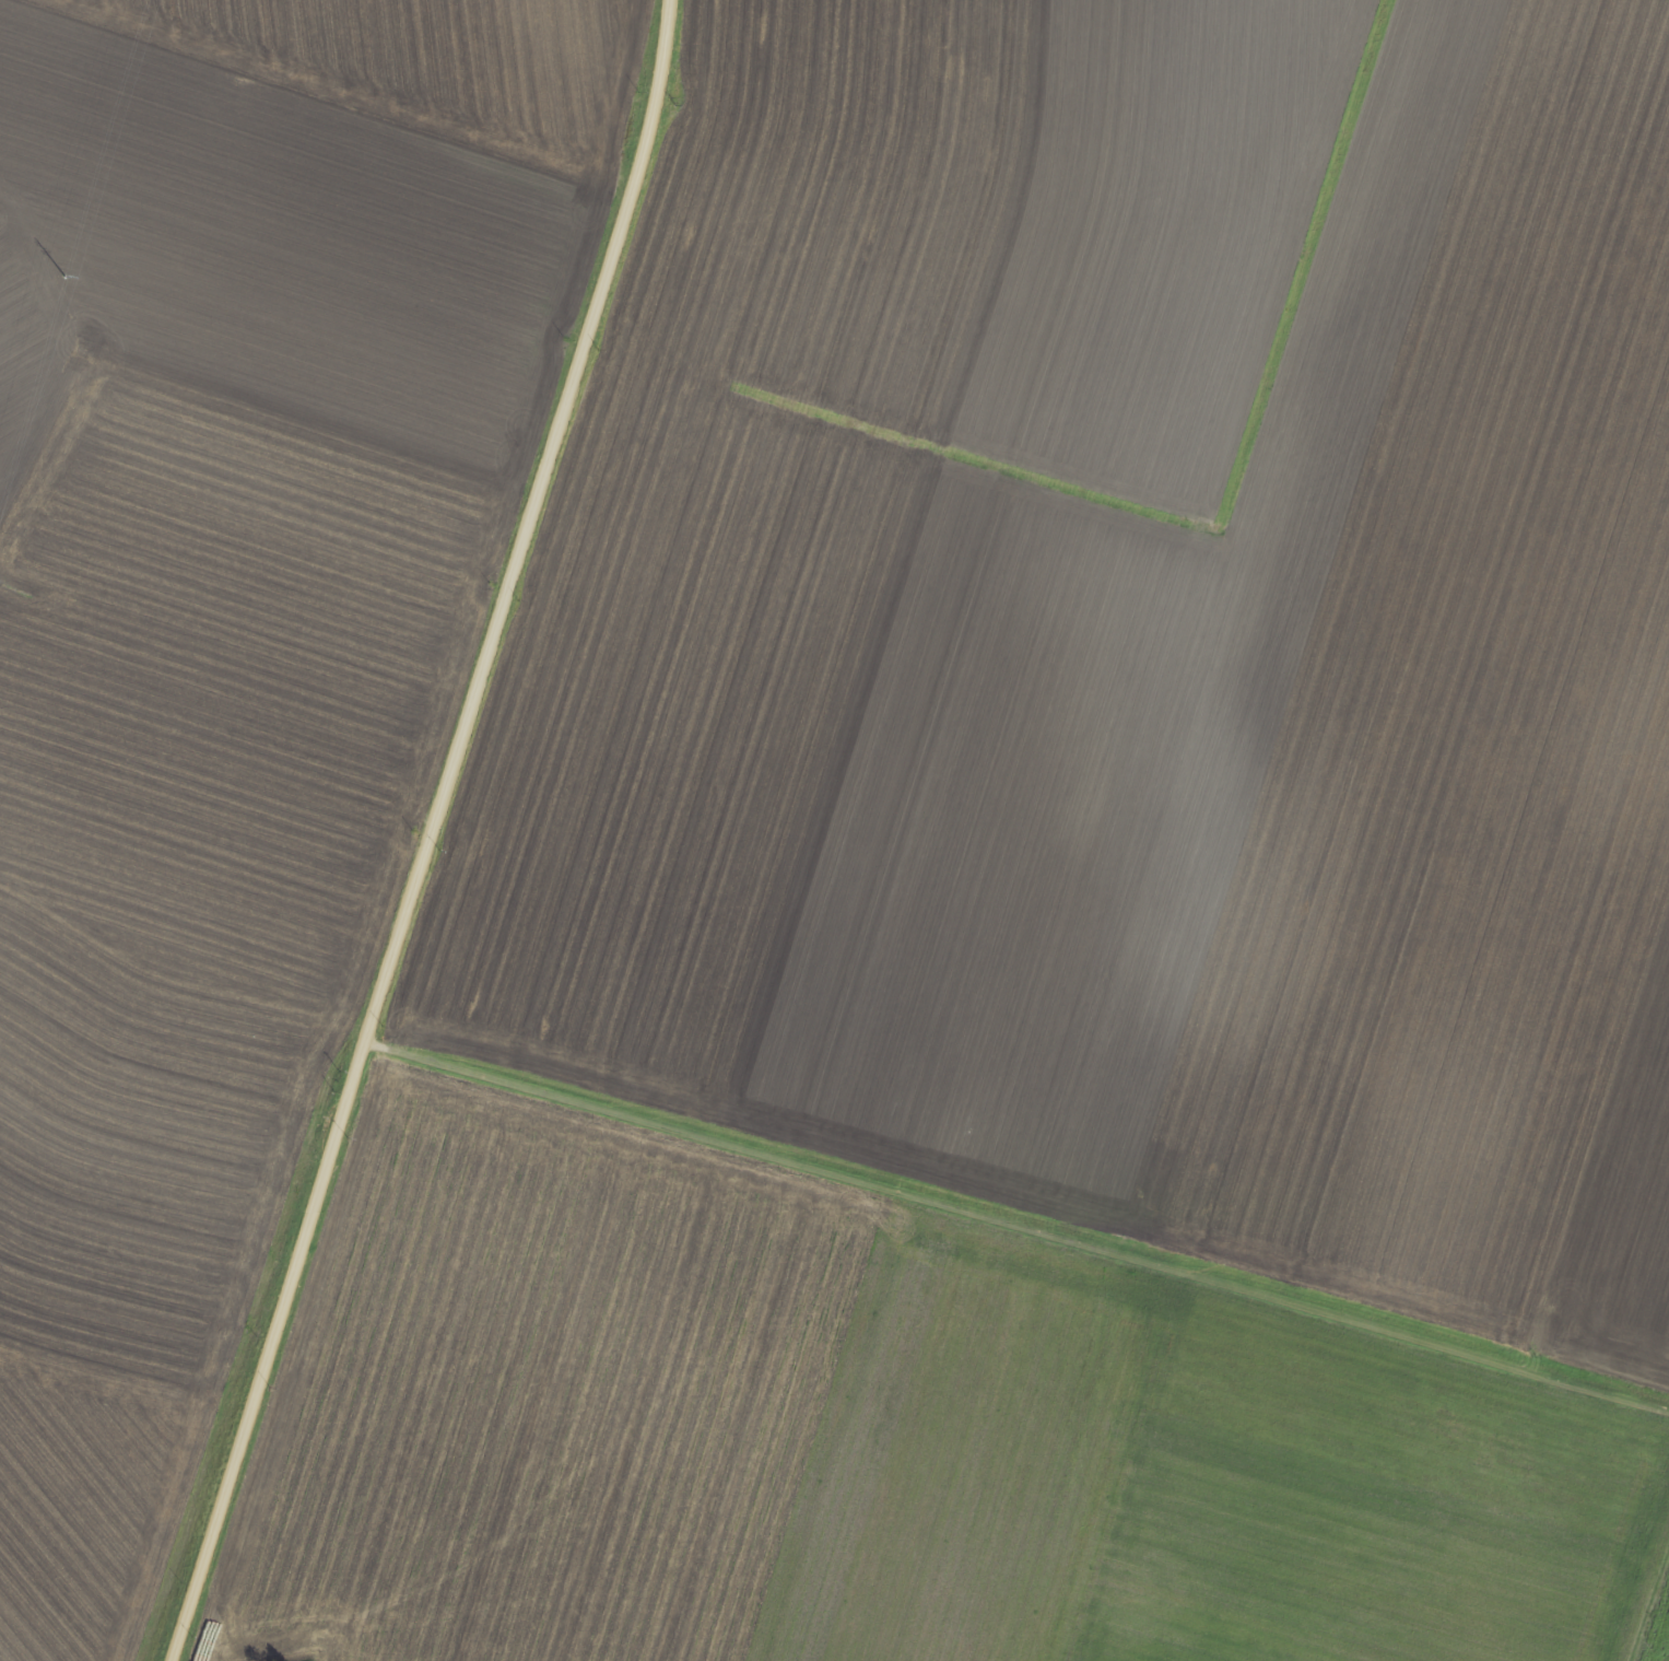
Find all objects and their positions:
power tower: (62, 278)
road: (431, 832)

